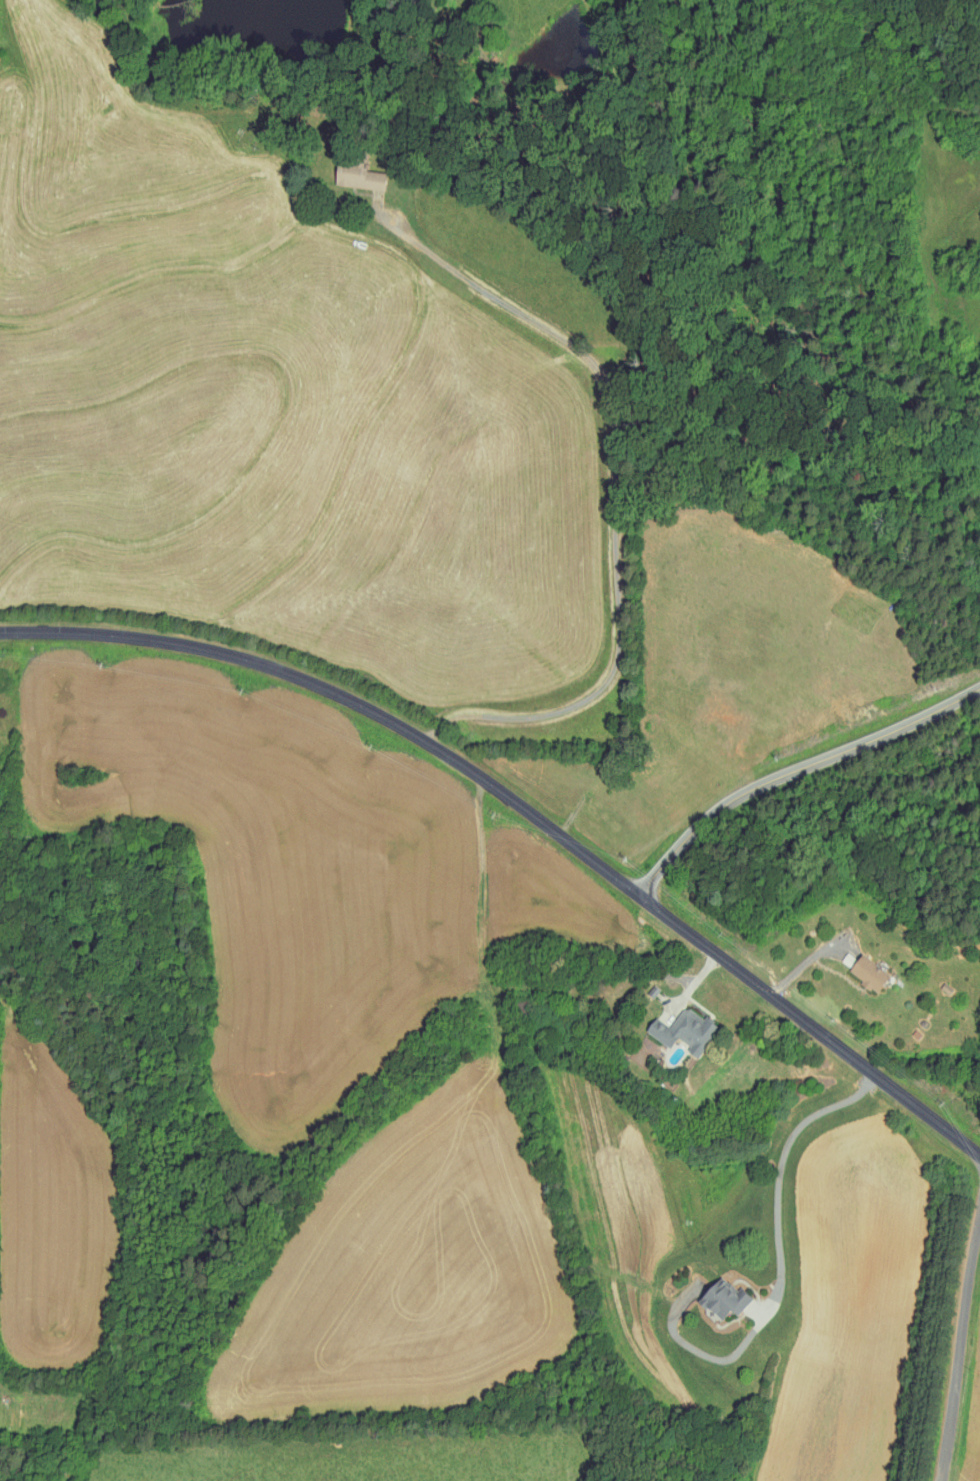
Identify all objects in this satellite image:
building: (356, 174)
road: (614, 478)
road: (794, 771)
road: (527, 811)
road: (807, 961)
building: (865, 971)
road: (696, 986)
building: (682, 1030)
road: (781, 1262)
building: (721, 1297)
road: (961, 1354)

